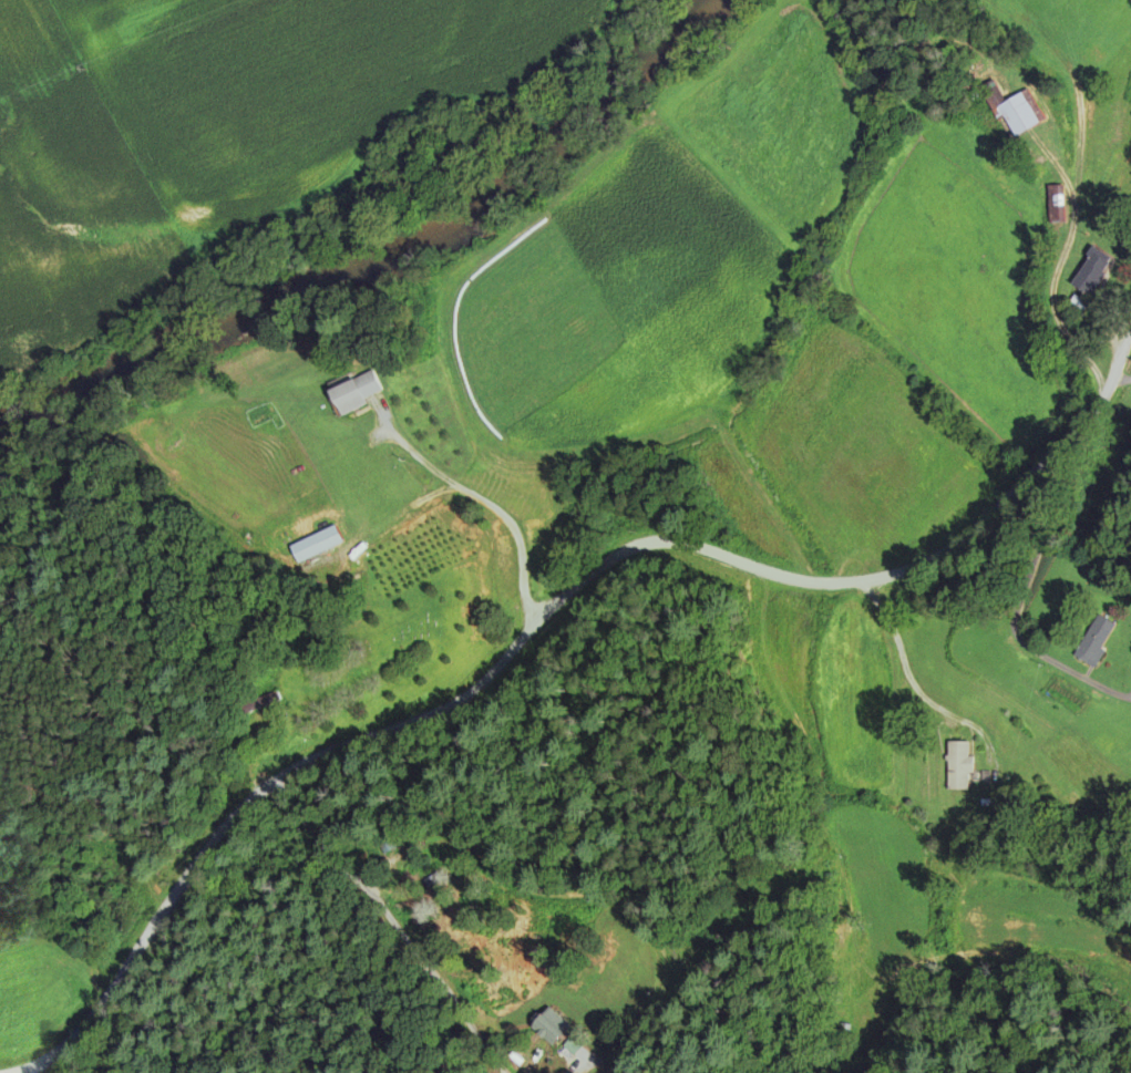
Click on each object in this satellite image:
building: (1014, 111)
building: (1055, 197)
river: (381, 252)
building: (1090, 272)
road: (1120, 382)
building: (354, 393)
road: (485, 503)
building: (315, 545)
road: (553, 602)
road: (1015, 609)
building: (1093, 641)
building: (261, 702)
building: (957, 766)
road: (899, 768)
building: (860, 889)
road: (390, 925)
building: (551, 1028)
road: (572, 1057)

